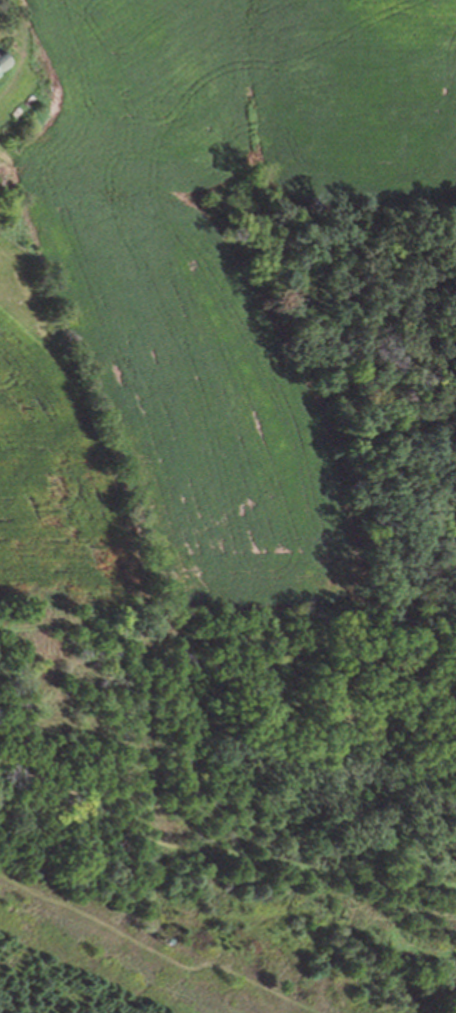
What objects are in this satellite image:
building: (1, 63)
building: (2, 176)

